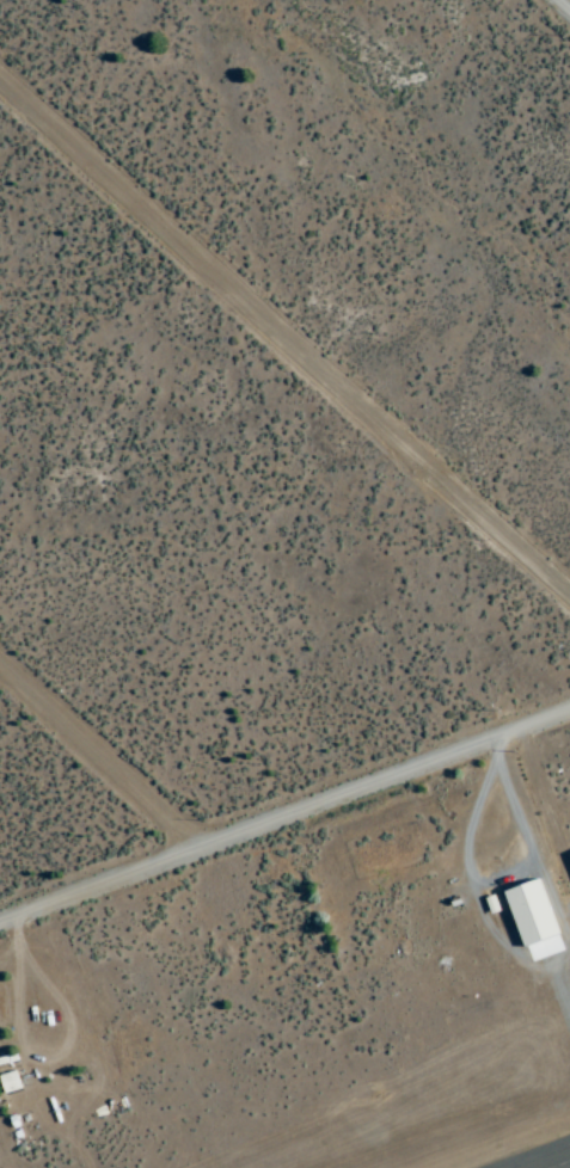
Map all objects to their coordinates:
road: (565, 4)
road: (283, 339)
road: (100, 757)
road: (284, 818)
building: (535, 920)
building: (10, 1082)
airport runway: (562, 1164)

